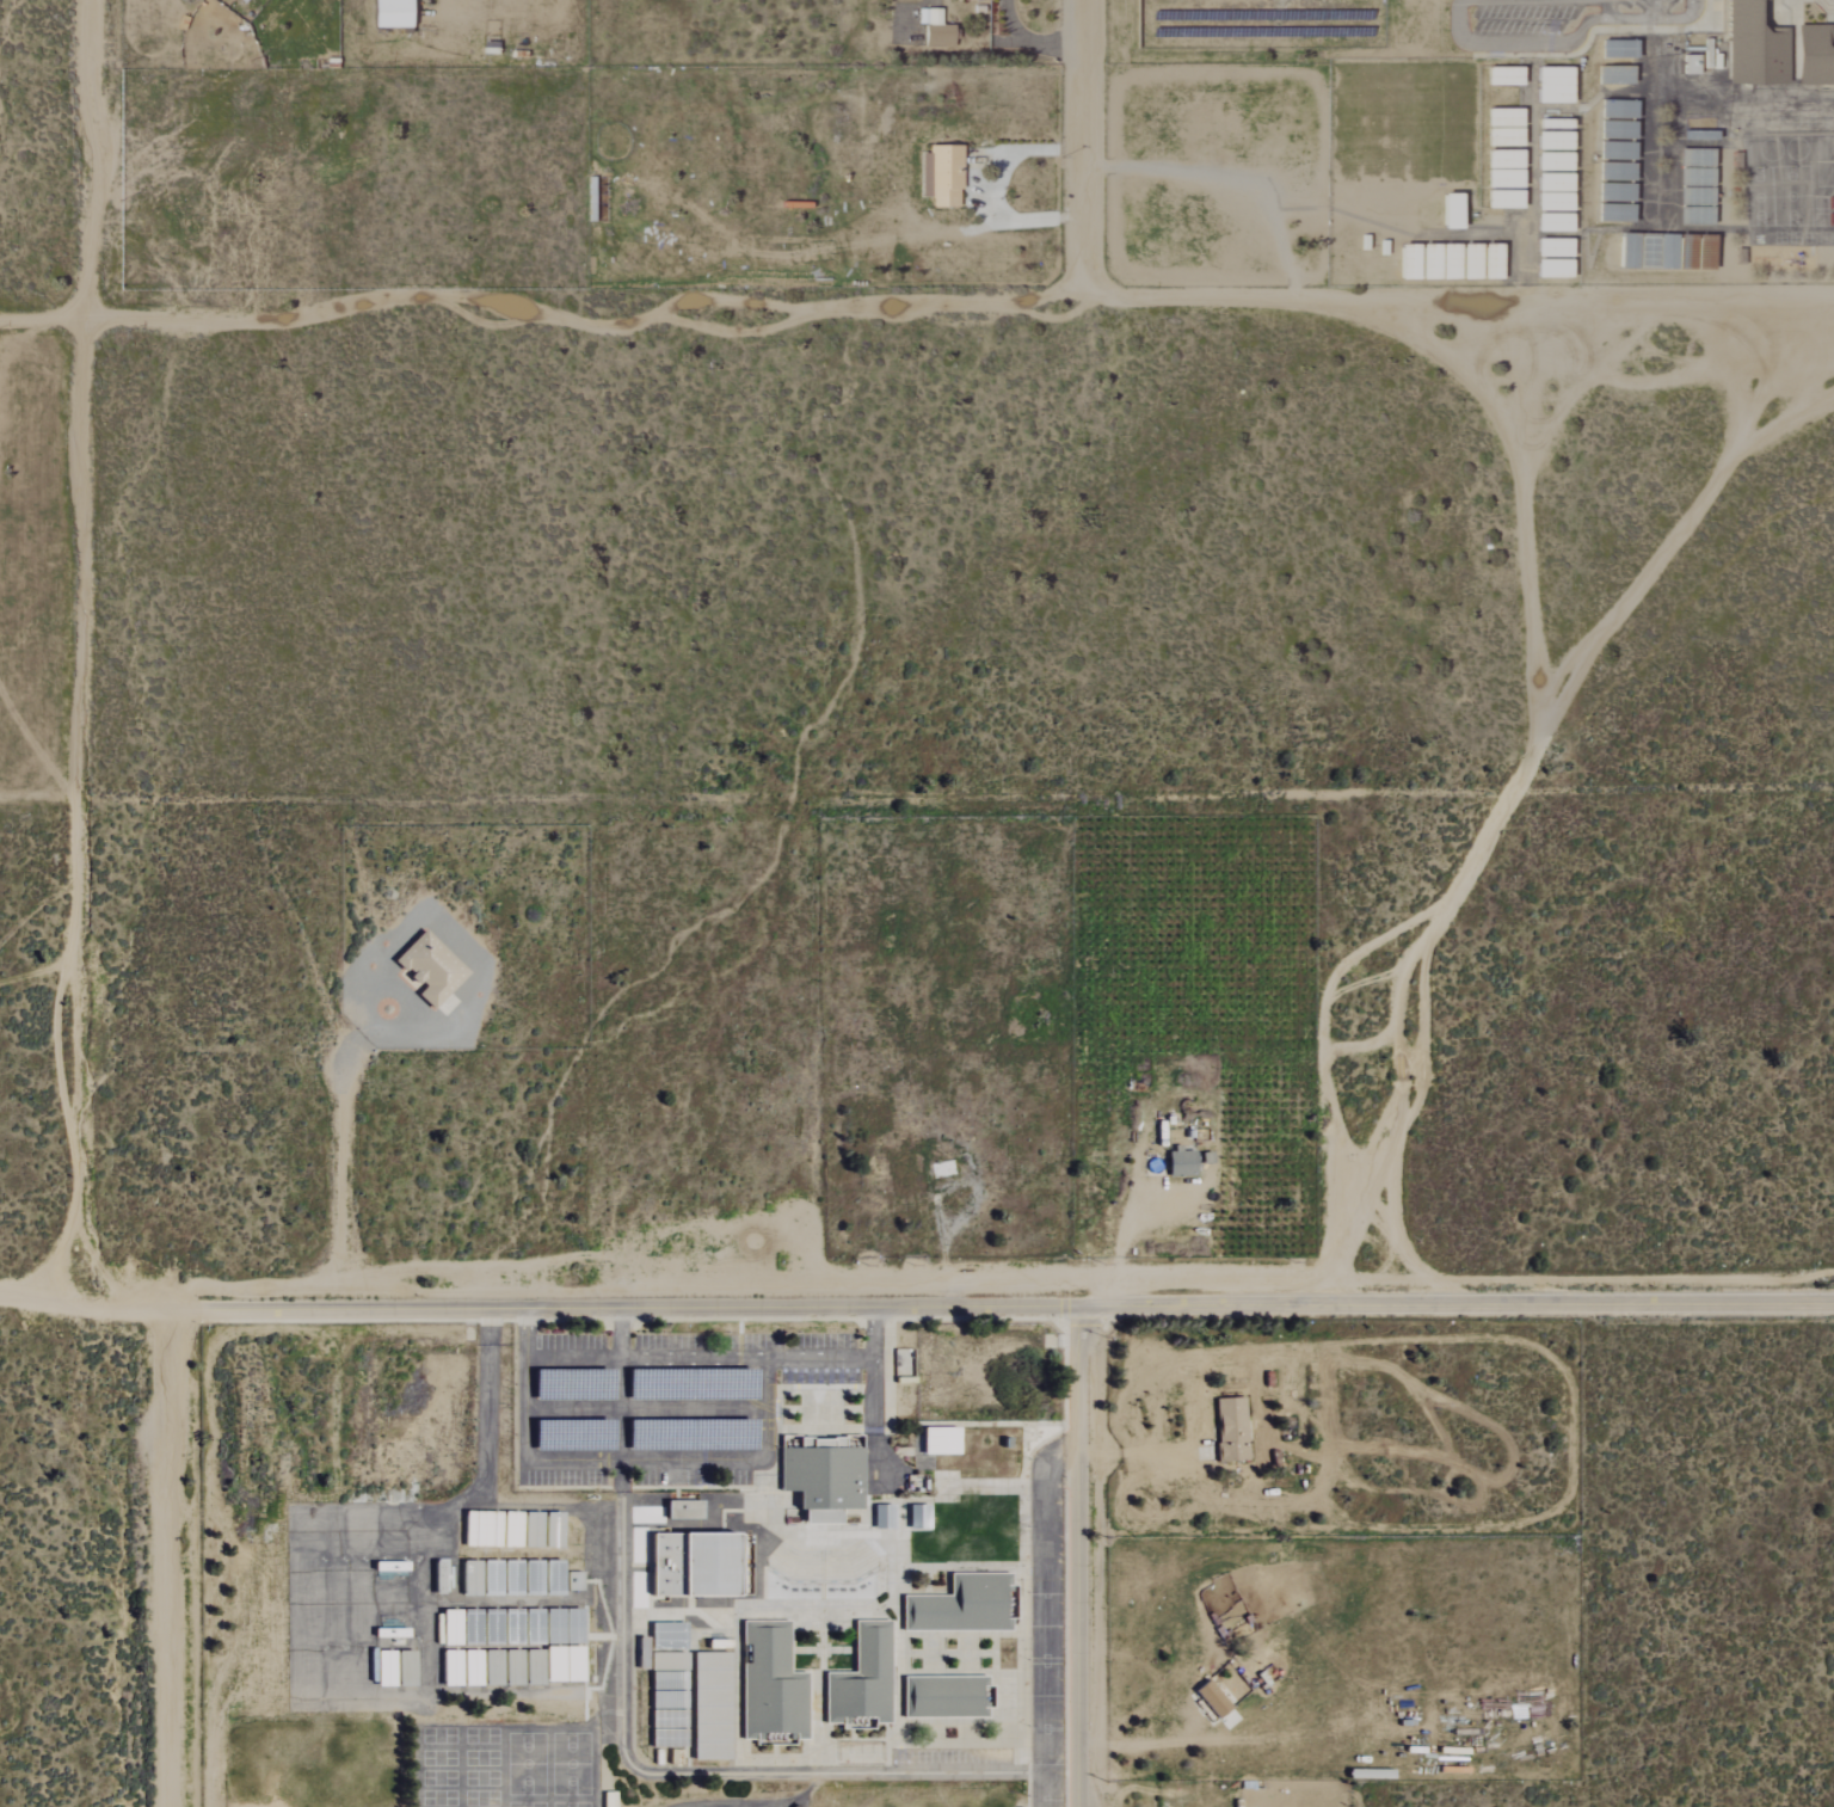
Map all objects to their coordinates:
road: (1606, 10)
road: (1654, 10)
building: (401, 14)
building: (928, 16)
road: (1030, 41)
road: (1567, 42)
building: (1752, 45)
building: (1615, 49)
building: (1501, 75)
building: (1612, 75)
building: (1550, 85)
building: (1615, 109)
building: (1501, 117)
building: (1549, 123)
building: (1614, 129)
building: (1501, 136)
building: (1551, 141)
road: (1081, 147)
building: (1614, 150)
building: (1501, 159)
building: (1551, 161)
building: (1613, 172)
building: (938, 174)
building: (1500, 178)
building: (1550, 182)
road: (995, 188)
building: (1613, 192)
building: (1501, 198)
building: (1550, 201)
building: (1447, 210)
building: (1613, 213)
building: (1550, 222)
building: (1550, 247)
building: (1626, 250)
building: (1466, 260)
building: (1488, 260)
building: (1550, 269)
road: (911, 297)
road: (17, 334)
road: (80, 650)
building: (435, 969)
building: (1178, 1162)
road: (340, 1236)
road: (1121, 1240)
road: (79, 1299)
road: (995, 1303)
road: (620, 1330)
road: (524, 1333)
road: (691, 1357)
road: (843, 1357)
road: (572, 1359)
road: (644, 1408)
road: (873, 1413)
building: (1233, 1428)
road: (1138, 1455)
road: (646, 1461)
building: (819, 1476)
building: (672, 1511)
building: (881, 1516)
building: (488, 1529)
building: (540, 1529)
road: (1077, 1555)
road: (167, 1556)
building: (467, 1579)
building: (570, 1581)
road: (1041, 1618)
building: (507, 1627)
building: (559, 1662)
building: (507, 1666)
building: (381, 1667)
building: (401, 1667)
building: (447, 1667)
building: (468, 1667)
building: (769, 1684)
road: (1134, 1737)
road: (632, 1768)

